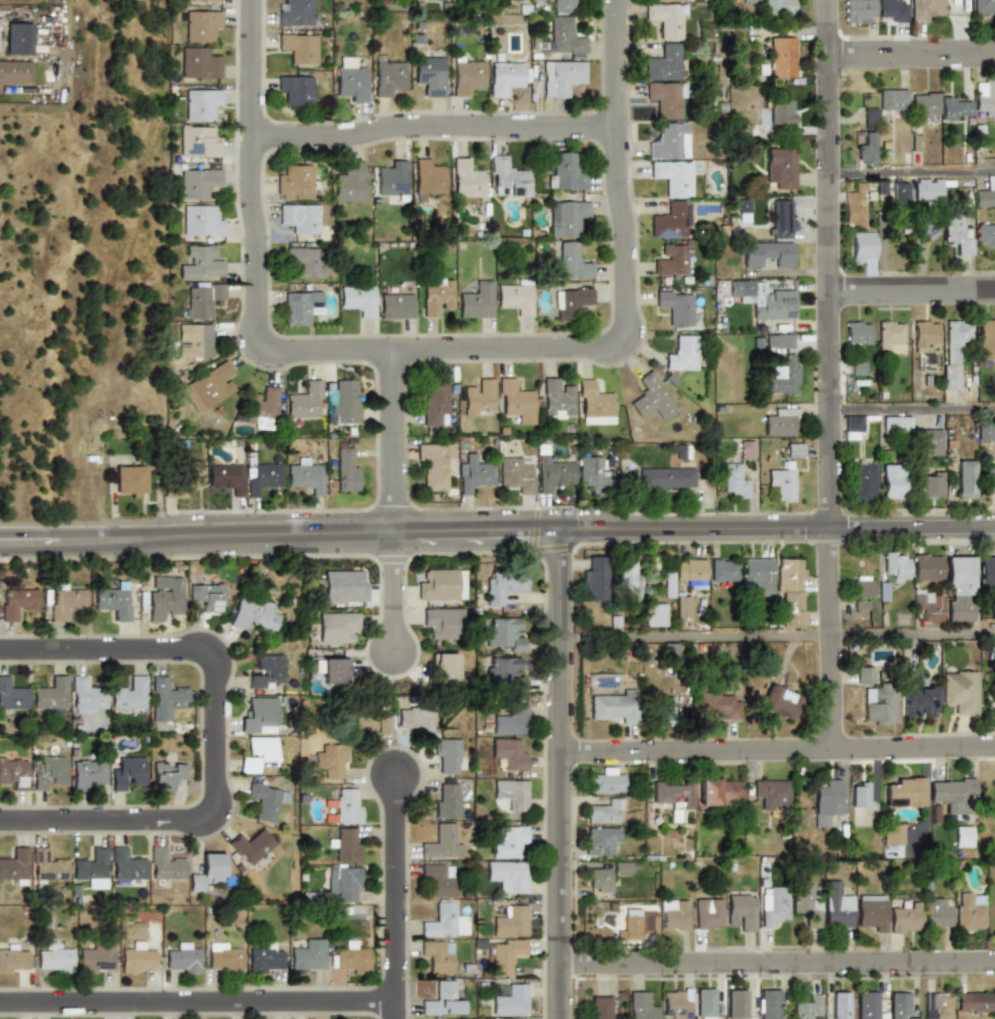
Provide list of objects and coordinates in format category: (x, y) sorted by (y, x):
building: (203, 0)
building: (571, 6)
building: (778, 6)
building: (957, 7)
building: (985, 7)
building: (924, 9)
building: (857, 11)
building: (296, 13)
building: (667, 19)
building: (202, 24)
building: (565, 36)
building: (19, 39)
building: (299, 47)
road: (911, 54)
building: (781, 57)
building: (199, 63)
building: (664, 63)
building: (15, 72)
building: (430, 75)
building: (389, 77)
building: (467, 77)
building: (505, 78)
building: (564, 79)
building: (352, 83)
building: (296, 91)
building: (985, 98)
building: (667, 99)
building: (891, 100)
building: (201, 104)
building: (924, 105)
building: (954, 109)
building: (770, 118)
building: (868, 118)
road: (433, 126)
building: (198, 141)
building: (670, 141)
building: (865, 149)
building: (779, 166)
building: (564, 172)
road: (912, 173)
building: (427, 177)
building: (392, 178)
building: (466, 178)
building: (508, 178)
building: (673, 178)
building: (349, 182)
building: (199, 183)
building: (298, 183)
building: (880, 186)
building: (927, 189)
building: (899, 194)
building: (986, 195)
building: (854, 206)
building: (743, 208)
building: (300, 218)
building: (566, 218)
building: (782, 219)
building: (203, 221)
building: (671, 221)
building: (956, 235)
road: (257, 237)
building: (986, 237)
building: (863, 246)
building: (768, 254)
building: (673, 260)
building: (307, 261)
building: (571, 261)
building: (202, 264)
road: (829, 264)
road: (627, 286)
road: (912, 290)
building: (437, 296)
building: (516, 298)
building: (763, 298)
building: (202, 300)
building: (359, 300)
building: (476, 300)
building: (571, 302)
building: (397, 306)
building: (302, 307)
building: (676, 307)
building: (858, 333)
building: (924, 335)
building: (890, 337)
building: (986, 340)
building: (194, 341)
building: (782, 341)
building: (955, 350)
building: (683, 354)
building: (857, 368)
building: (784, 376)
building: (209, 386)
building: (479, 397)
building: (557, 399)
building: (651, 399)
building: (516, 401)
building: (304, 402)
building: (342, 402)
building: (435, 403)
building: (594, 404)
building: (262, 409)
road: (913, 409)
building: (782, 423)
building: (894, 423)
building: (854, 427)
building: (985, 431)
road: (394, 440)
building: (928, 443)
building: (680, 451)
building: (435, 464)
building: (347, 469)
building: (737, 471)
building: (553, 473)
building: (785, 473)
building: (474, 474)
building: (517, 474)
building: (593, 474)
building: (195, 475)
building: (225, 476)
building: (263, 476)
building: (306, 477)
building: (666, 477)
building: (965, 479)
building: (989, 479)
building: (130, 481)
building: (863, 481)
building: (892, 481)
building: (930, 485)
road: (497, 529)
building: (896, 565)
building: (927, 567)
building: (724, 570)
building: (691, 571)
building: (986, 574)
building: (757, 575)
building: (629, 577)
building: (594, 579)
building: (442, 585)
building: (344, 586)
building: (504, 586)
building: (861, 587)
building: (958, 588)
building: (789, 591)
road: (395, 592)
building: (164, 595)
building: (675, 595)
building: (207, 596)
building: (66, 600)
building: (18, 601)
building: (113, 601)
building: (926, 604)
building: (858, 605)
building: (991, 610)
building: (253, 613)
building: (654, 615)
building: (442, 621)
building: (337, 627)
building: (504, 633)
road: (777, 636)
road: (830, 639)
building: (989, 650)
building: (445, 666)
building: (266, 670)
building: (335, 671)
building: (504, 672)
building: (956, 691)
building: (130, 694)
building: (88, 695)
building: (51, 696)
building: (13, 697)
building: (872, 697)
building: (915, 697)
building: (166, 700)
building: (778, 703)
building: (714, 704)
building: (612, 707)
building: (659, 711)
building: (260, 715)
building: (415, 719)
building: (509, 720)
building: (373, 723)
road: (217, 734)
road: (778, 750)
building: (509, 753)
building: (258, 754)
building: (450, 757)
building: (331, 760)
building: (13, 770)
building: (49, 770)
building: (128, 770)
building: (87, 771)
road: (561, 773)
building: (168, 775)
building: (606, 781)
building: (718, 791)
building: (904, 792)
building: (512, 793)
building: (768, 793)
building: (858, 793)
building: (669, 794)
building: (953, 794)
building: (266, 799)
building: (993, 799)
building: (448, 800)
building: (824, 800)
building: (348, 805)
building: (605, 810)
building: (893, 834)
building: (508, 840)
building: (603, 840)
building: (443, 841)
building: (347, 844)
building: (252, 846)
building: (127, 865)
building: (166, 865)
building: (15, 866)
building: (48, 866)
building: (92, 867)
building: (623, 867)
building: (209, 870)
building: (509, 875)
building: (438, 878)
building: (344, 882)
building: (600, 884)
road: (397, 897)
building: (807, 904)
building: (838, 904)
building: (774, 906)
building: (742, 911)
building: (873, 911)
building: (938, 912)
building: (971, 912)
building: (676, 913)
building: (708, 913)
building: (906, 917)
building: (446, 920)
building: (512, 921)
building: (648, 922)
building: (630, 926)
building: (438, 955)
building: (309, 956)
building: (351, 956)
building: (506, 956)
building: (224, 957)
building: (97, 958)
building: (14, 959)
building: (137, 959)
building: (183, 959)
building: (265, 959)
building: (55, 960)
road: (778, 963)
building: (442, 1000)
building: (511, 1000)
building: (976, 1001)
road: (198, 1002)
building: (938, 1002)
building: (677, 1003)
building: (706, 1003)
building: (737, 1004)
building: (770, 1004)
building: (841, 1005)
building: (868, 1005)
building: (900, 1005)
building: (641, 1006)
building: (598, 1007)
building: (808, 1008)
building: (913, 1018)

